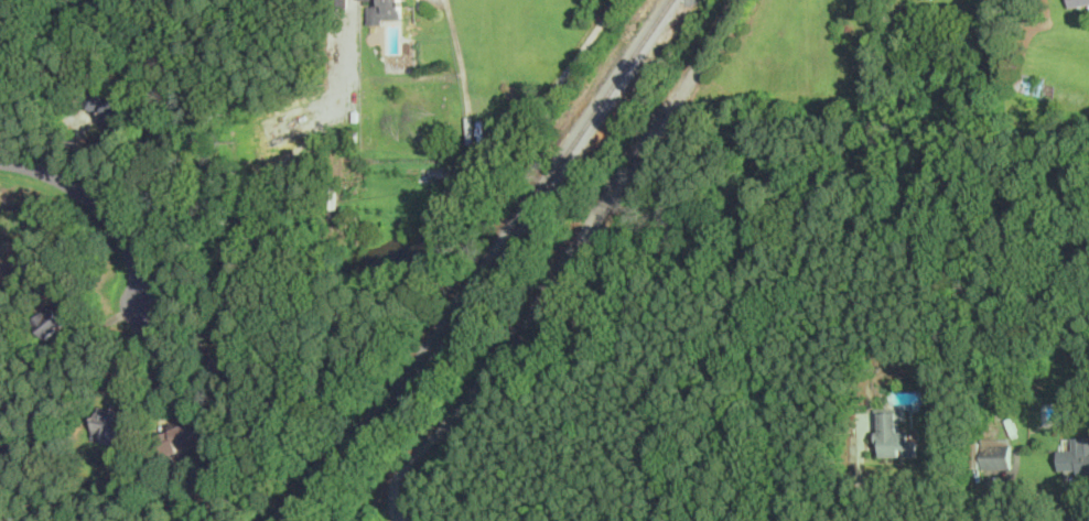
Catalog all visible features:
building: (1077, 1)
building: (384, 10)
building: (107, 106)
road: (497, 162)
road: (98, 204)
road: (567, 257)
road: (431, 270)
railway: (487, 270)
building: (53, 318)
road: (161, 356)
building: (238, 358)
building: (108, 424)
building: (894, 435)
building: (183, 436)
building: (996, 453)
building: (1075, 455)
road: (860, 478)
road: (401, 513)
road: (400, 518)

